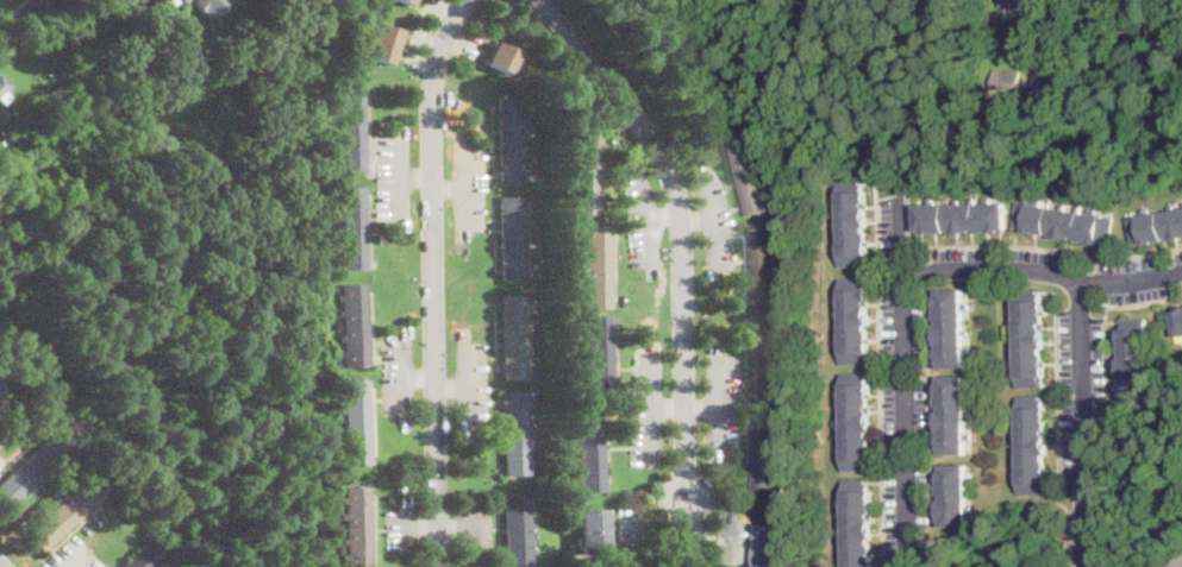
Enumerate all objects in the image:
building: (183, 0)
building: (173, 1)
building: (407, 1)
building: (1012, 4)
building: (209, 6)
building: (1150, 6)
building: (251, 37)
road: (430, 37)
building: (382, 43)
road: (561, 46)
building: (264, 57)
building: (500, 57)
building: (165, 64)
building: (1006, 78)
building: (4, 89)
building: (997, 96)
building: (351, 126)
building: (511, 139)
building: (6, 150)
building: (586, 170)
building: (749, 171)
road: (399, 174)
building: (148, 181)
road: (400, 194)
building: (962, 218)
building: (852, 223)
building: (1064, 223)
building: (354, 227)
building: (1156, 227)
road: (681, 231)
building: (512, 238)
building: (598, 265)
building: (763, 267)
road: (1040, 271)
road: (432, 279)
building: (853, 321)
building: (1177, 322)
building: (354, 325)
building: (952, 328)
building: (514, 336)
building: (1030, 338)
building: (599, 355)
building: (1136, 360)
building: (764, 361)
road: (902, 373)
building: (1, 388)
building: (953, 415)
building: (356, 421)
building: (856, 421)
road: (1084, 423)
building: (515, 433)
building: (1033, 442)
building: (590, 449)
building: (765, 454)
parking lot: (1, 460)
building: (30, 472)
building: (953, 496)
building: (64, 514)
building: (856, 523)
building: (358, 525)
building: (590, 530)
building: (517, 533)
building: (769, 544)
parking lot: (73, 555)
building: (143, 557)
road: (79, 560)
building: (1177, 563)

